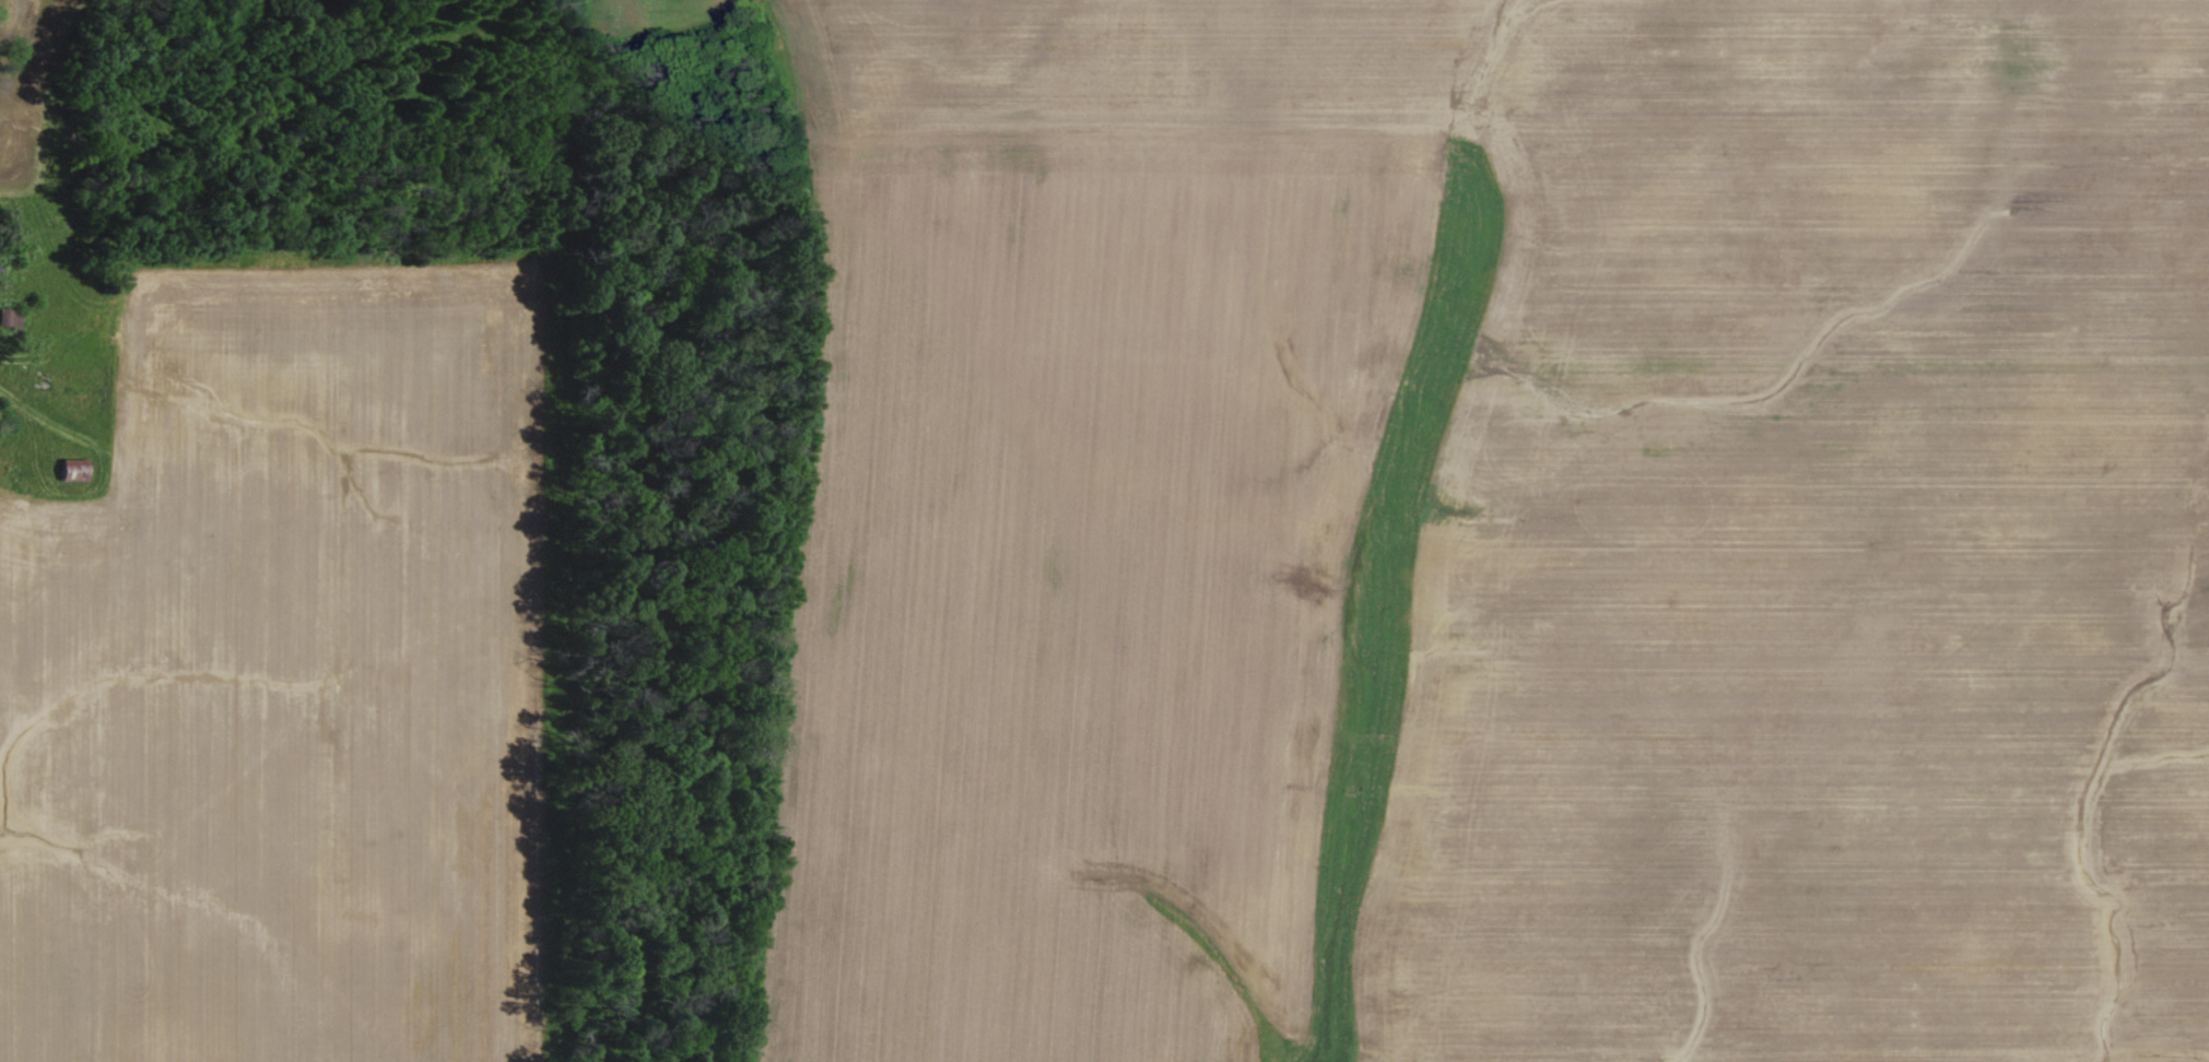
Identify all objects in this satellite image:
building: (77, 470)

